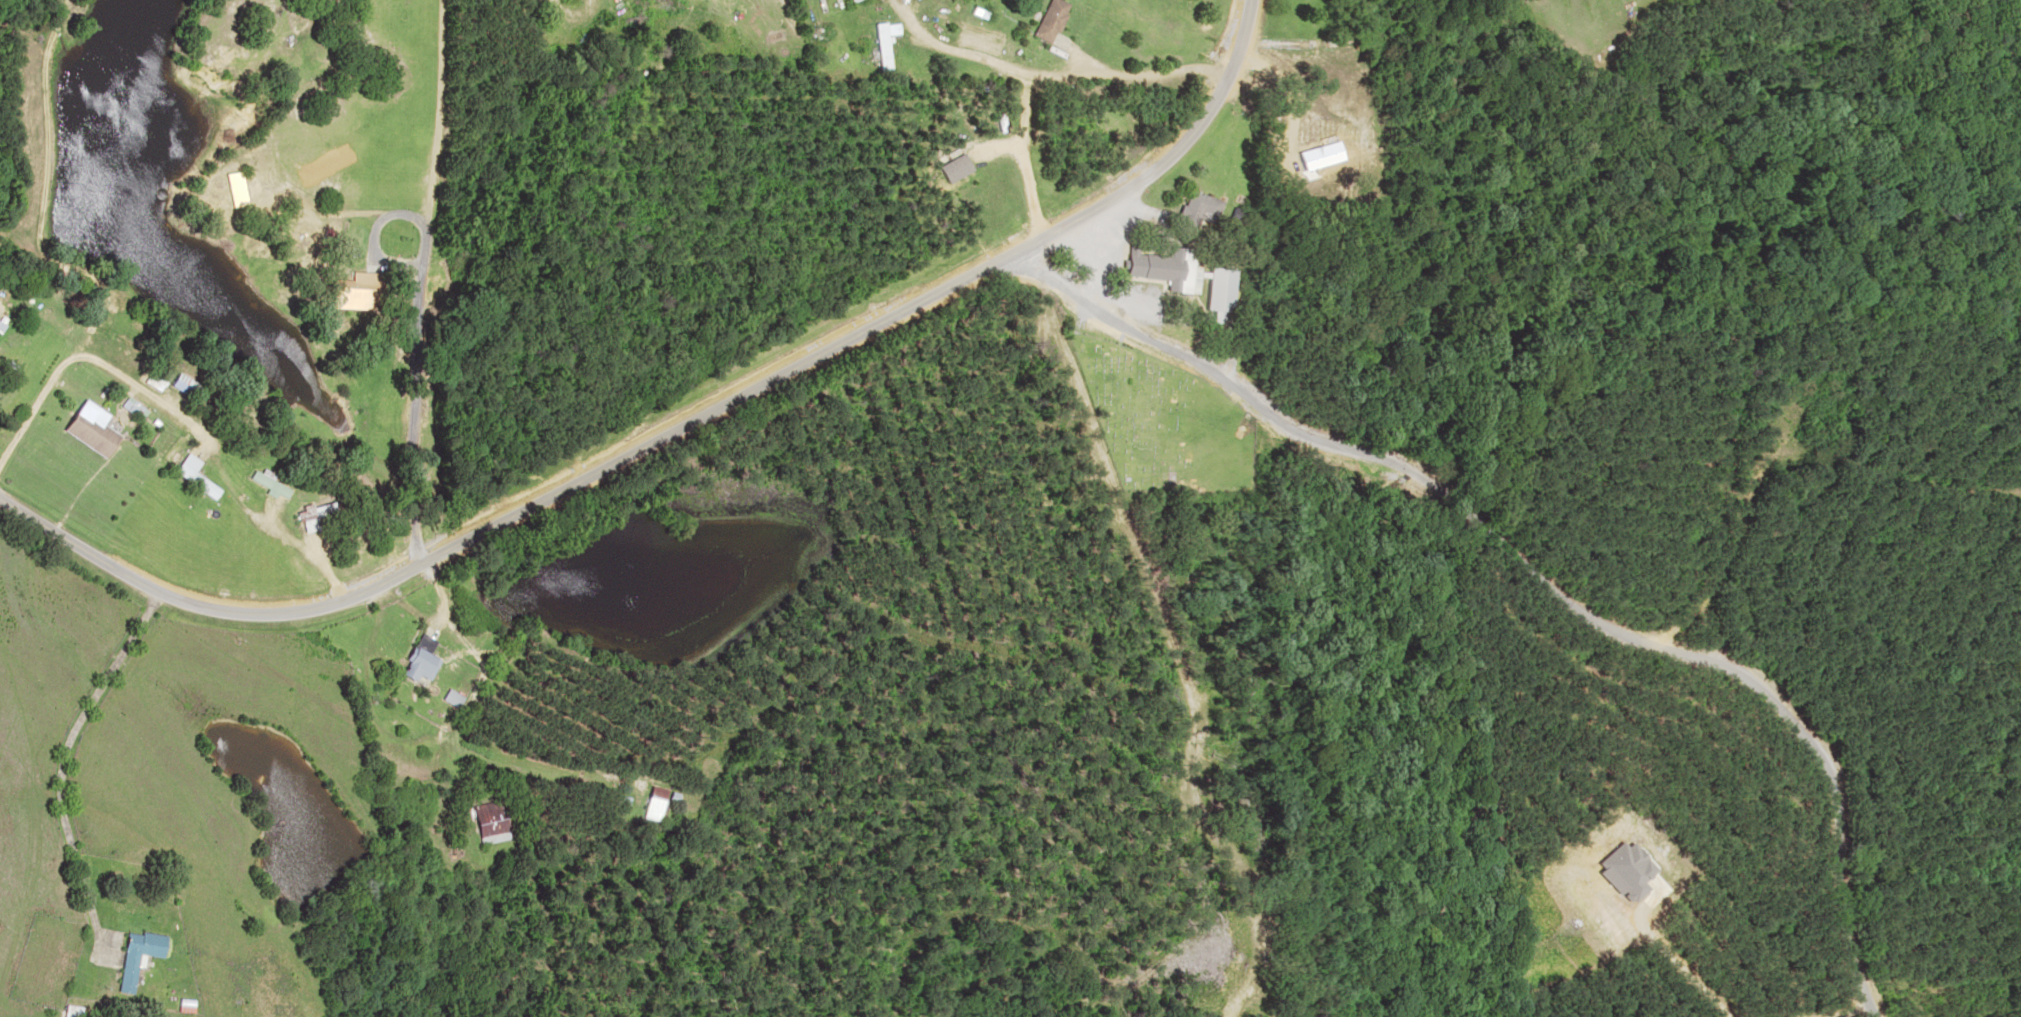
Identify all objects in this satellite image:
building: (848, 0)
building: (1051, 20)
building: (878, 47)
road: (1025, 160)
building: (230, 188)
building: (1196, 208)
building: (1165, 267)
building: (1218, 289)
building: (352, 290)
road: (165, 294)
building: (151, 374)
building: (177, 385)
road: (683, 419)
building: (86, 430)
building: (190, 476)
building: (310, 515)
road: (1544, 596)
building: (416, 660)
building: (446, 698)
building: (650, 803)
building: (483, 821)
building: (135, 956)
building: (69, 1010)

